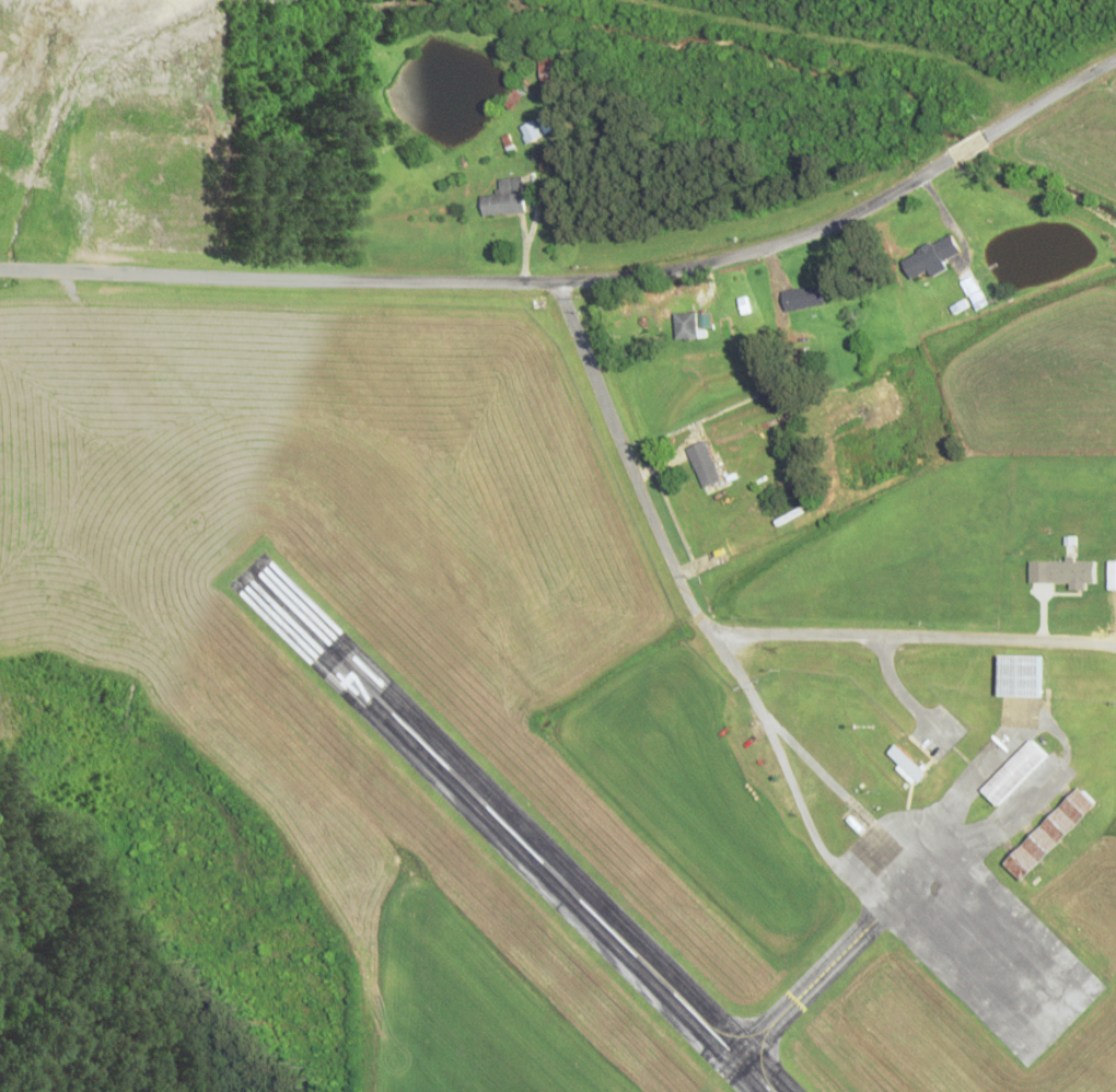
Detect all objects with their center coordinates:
building: (549, 71)
building: (530, 131)
building: (504, 198)
building: (929, 258)
road: (583, 280)
building: (802, 299)
building: (685, 327)
building: (702, 465)
road: (723, 629)
building: (1020, 676)
building: (1011, 772)
airport runway: (505, 830)
building: (1048, 836)
airport apron: (965, 930)
airport taxiway: (797, 996)
airport taxiway: (733, 1037)

